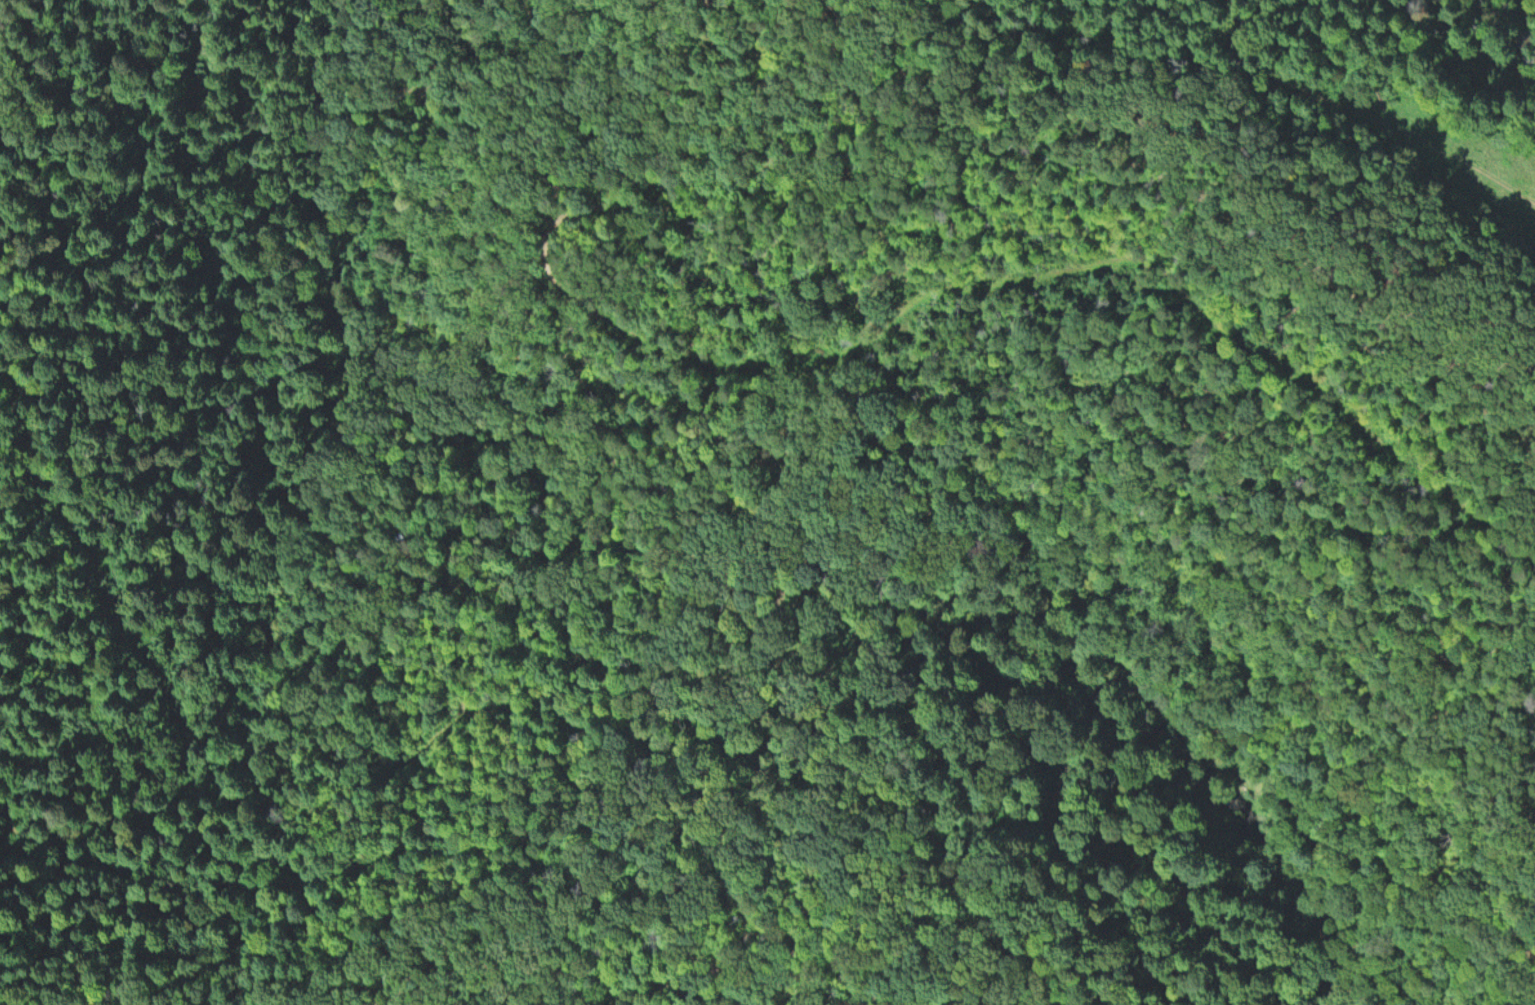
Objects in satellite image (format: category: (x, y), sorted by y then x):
road: (898, 301)
road: (732, 960)

